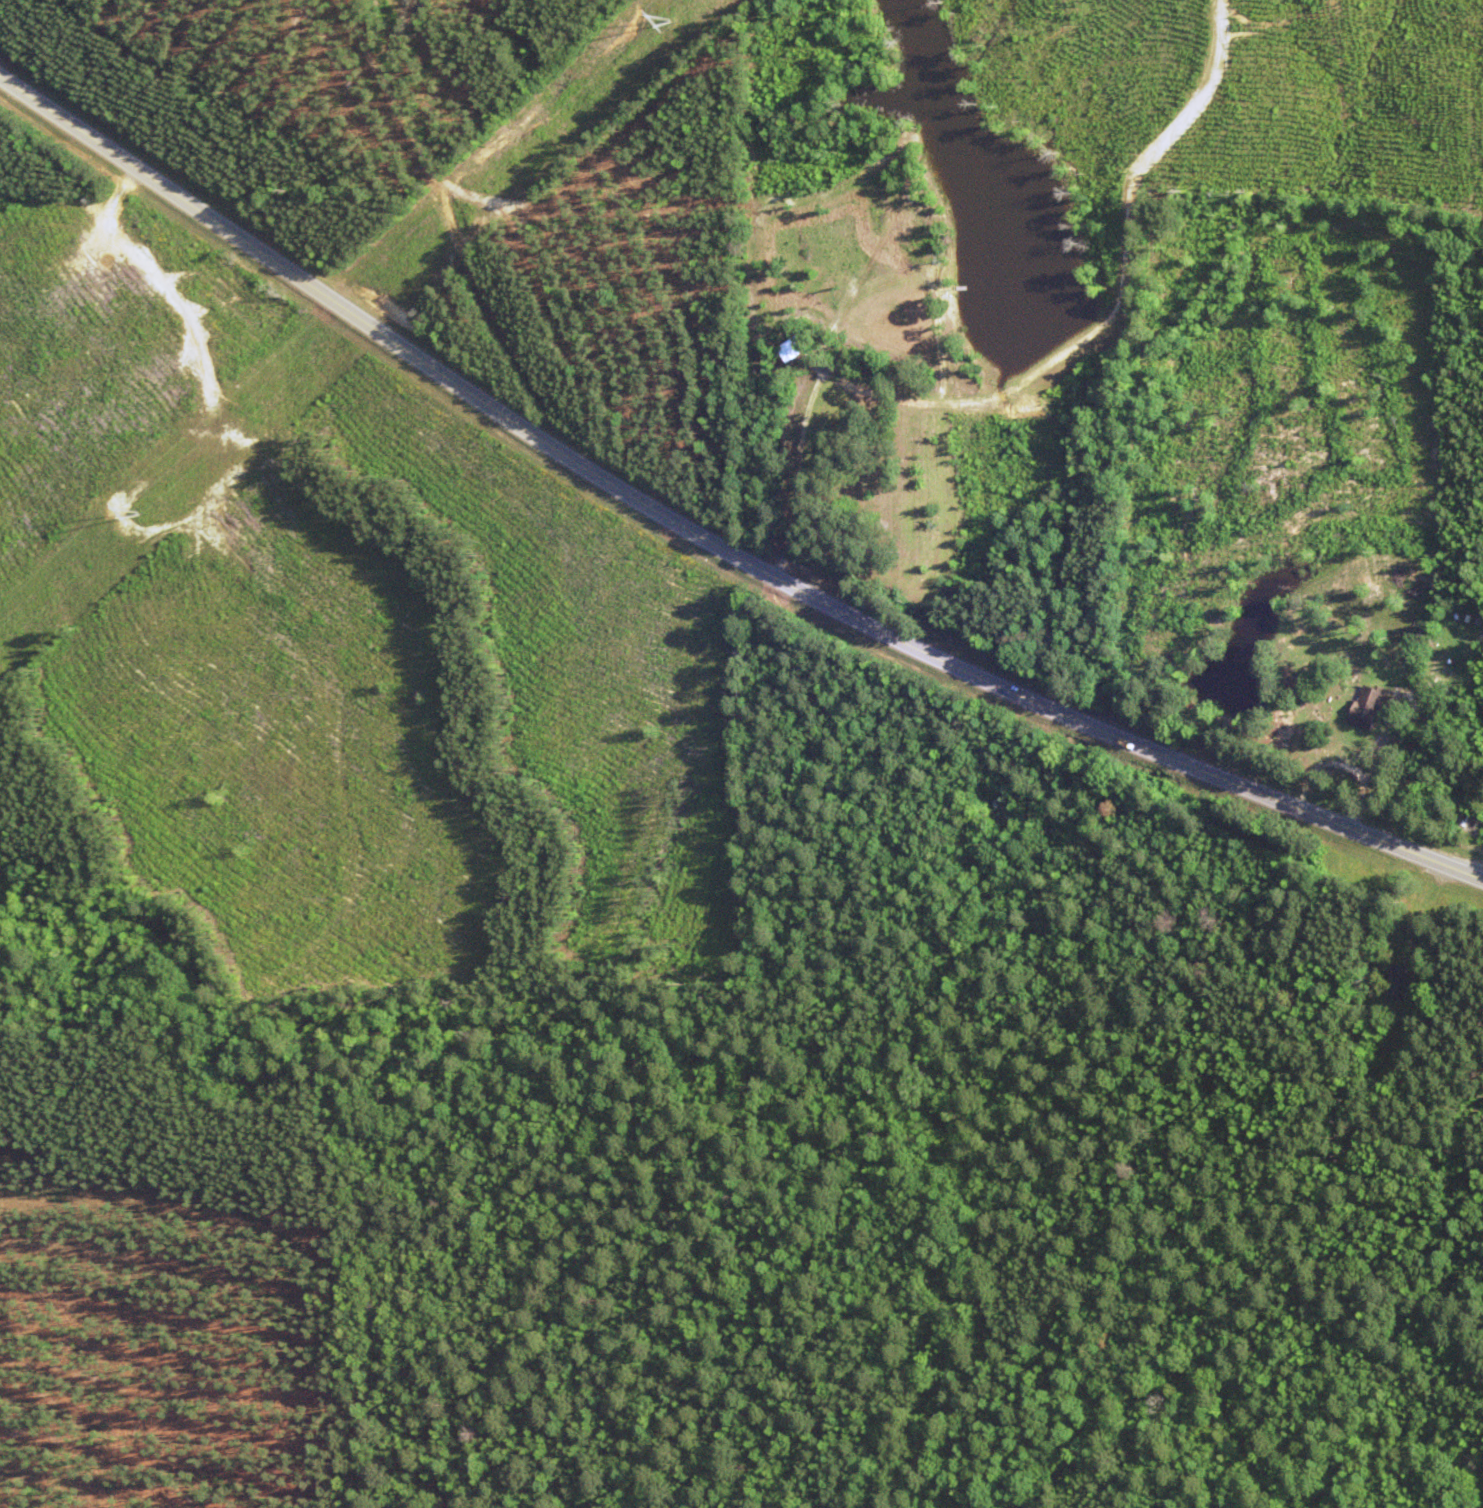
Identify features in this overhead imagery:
power tower: (673, 21)
power tower: (141, 514)
road: (708, 540)

